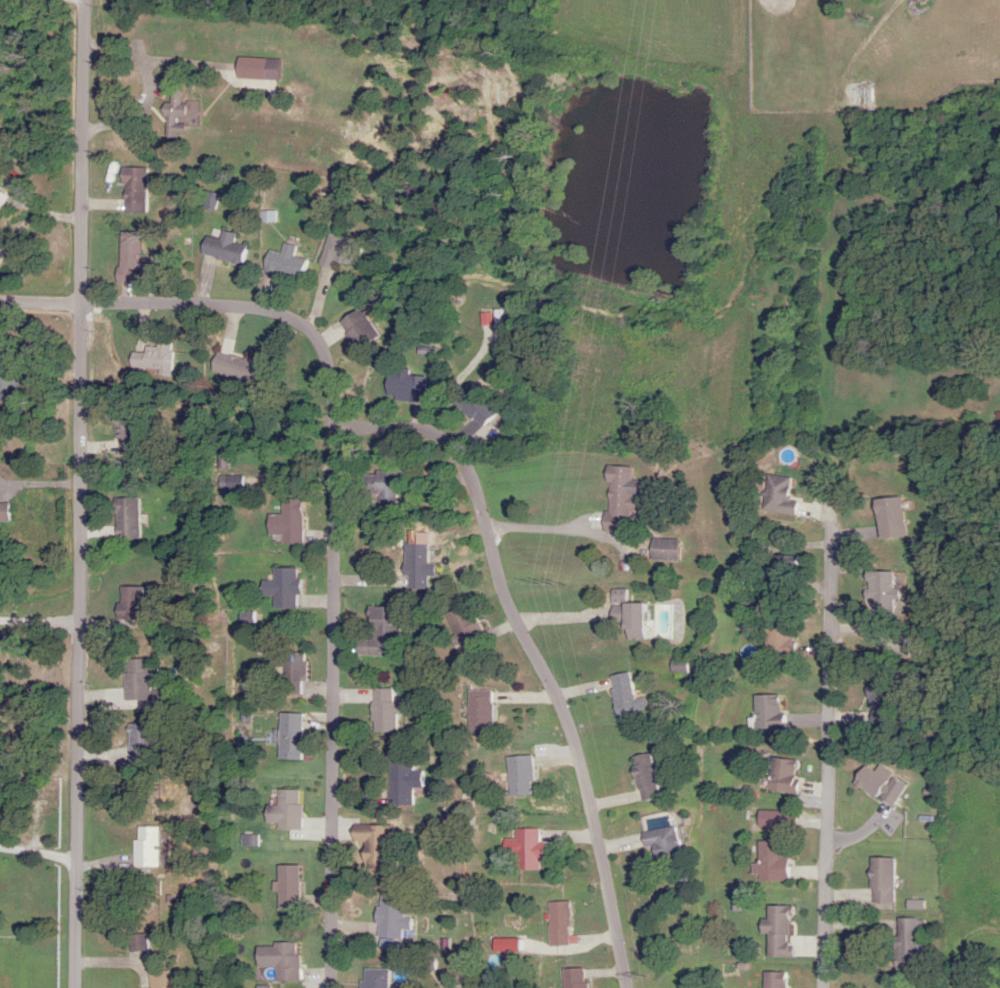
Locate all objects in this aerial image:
building: (265, 69)
building: (177, 111)
building: (4, 200)
building: (228, 248)
building: (348, 251)
building: (133, 257)
building: (292, 265)
building: (366, 330)
building: (153, 358)
building: (240, 367)
building: (15, 387)
building: (408, 387)
building: (480, 405)
building: (127, 435)
building: (390, 487)
road: (81, 493)
building: (775, 495)
road: (335, 498)
building: (617, 499)
building: (7, 513)
building: (888, 517)
building: (127, 518)
building: (291, 522)
road: (548, 532)
building: (414, 567)
building: (782, 573)
building: (280, 588)
building: (140, 605)
building: (627, 615)
building: (459, 623)
road: (39, 625)
building: (379, 632)
building: (776, 643)
road: (535, 655)
building: (675, 666)
building: (291, 673)
building: (137, 680)
building: (876, 694)
building: (623, 696)
building: (382, 711)
building: (766, 712)
building: (477, 713)
building: (288, 736)
building: (139, 743)
road: (830, 762)
building: (518, 775)
building: (781, 775)
building: (643, 777)
building: (400, 782)
building: (877, 784)
building: (283, 810)
building: (661, 845)
building: (143, 847)
building: (522, 848)
road: (39, 855)
building: (769, 862)
building: (879, 880)
building: (285, 887)
building: (388, 917)
building: (556, 924)
building: (775, 931)
road: (39, 937)
building: (904, 942)
building: (135, 943)
building: (277, 959)
building: (571, 977)
building: (158, 979)
building: (374, 979)
building: (772, 979)

